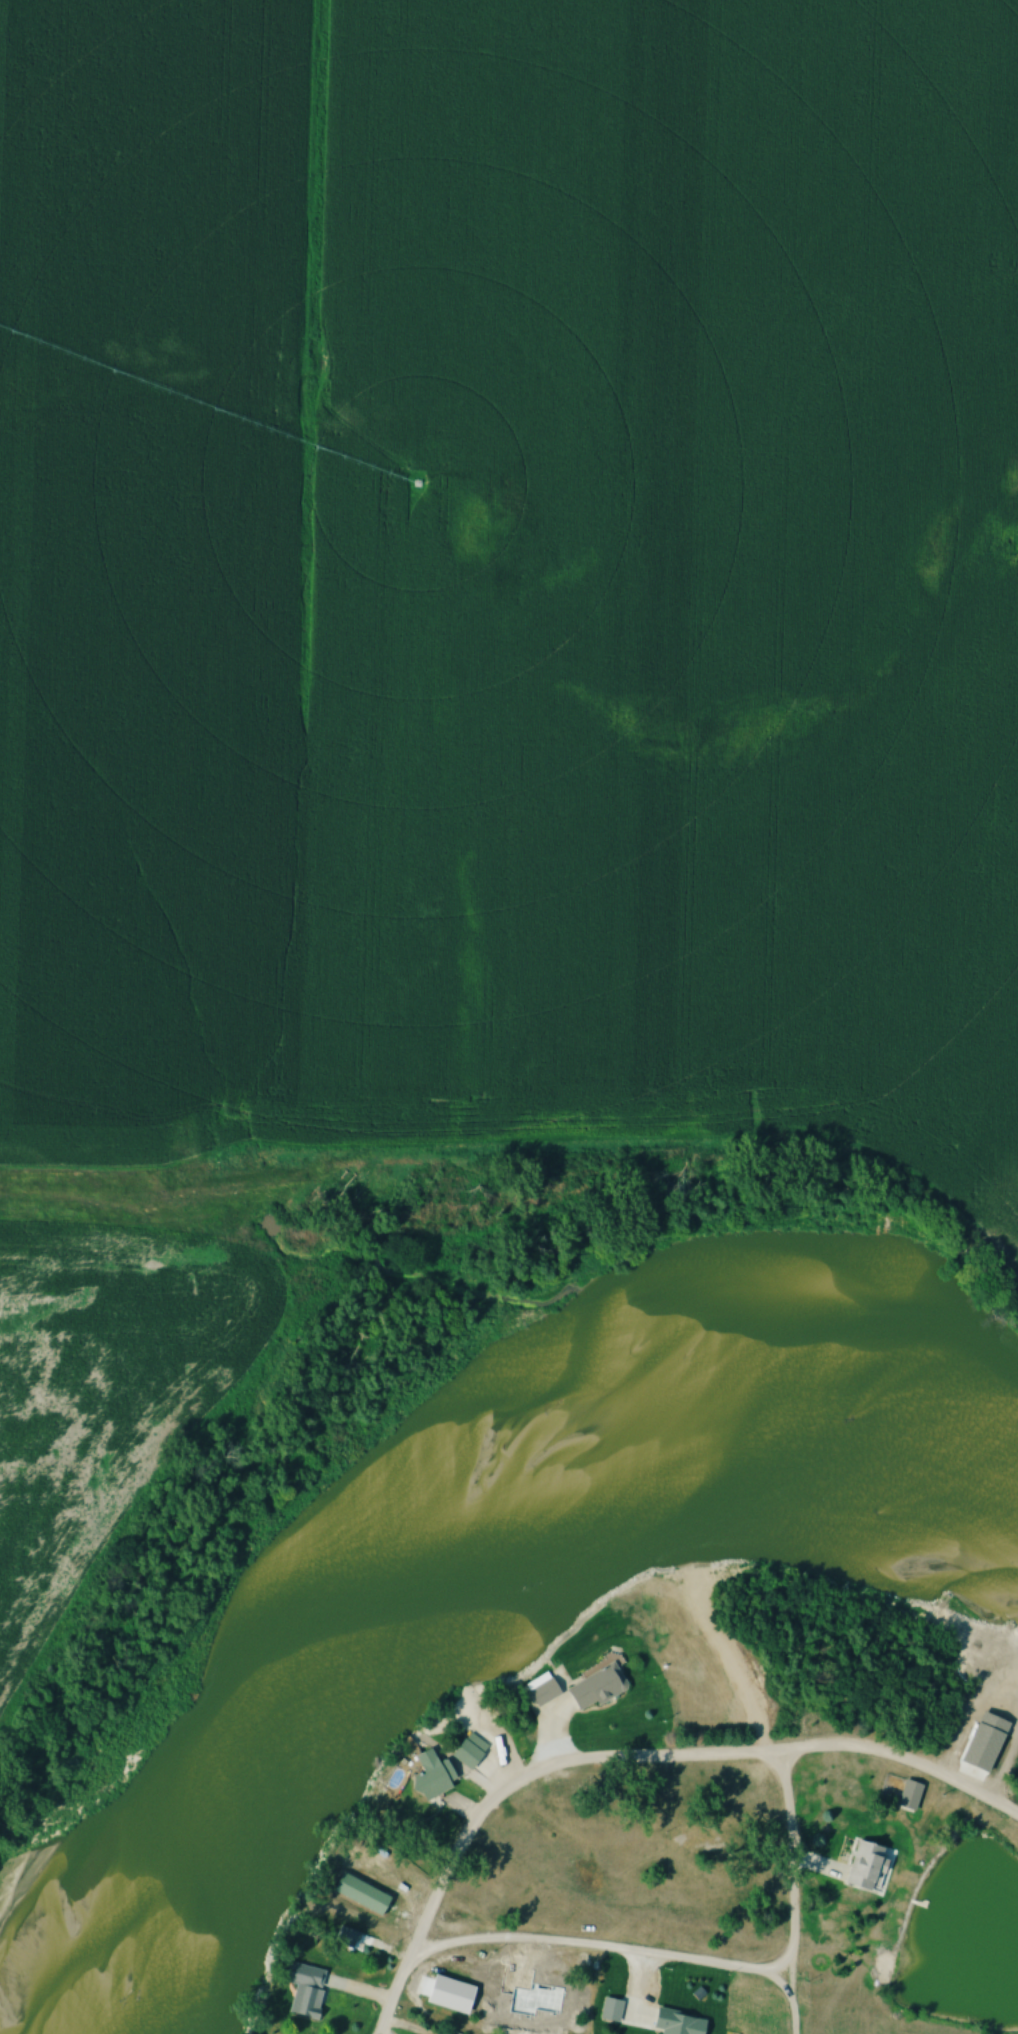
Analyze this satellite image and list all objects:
river: (456, 1558)
building: (594, 1687)
building: (539, 1689)
building: (466, 1750)
road: (625, 1755)
road: (789, 1761)
building: (428, 1775)
building: (907, 1794)
building: (860, 1865)
building: (358, 1893)
road: (792, 1900)
road: (583, 1942)
road: (790, 1979)
building: (304, 1995)
building: (609, 2010)
building: (674, 2023)

